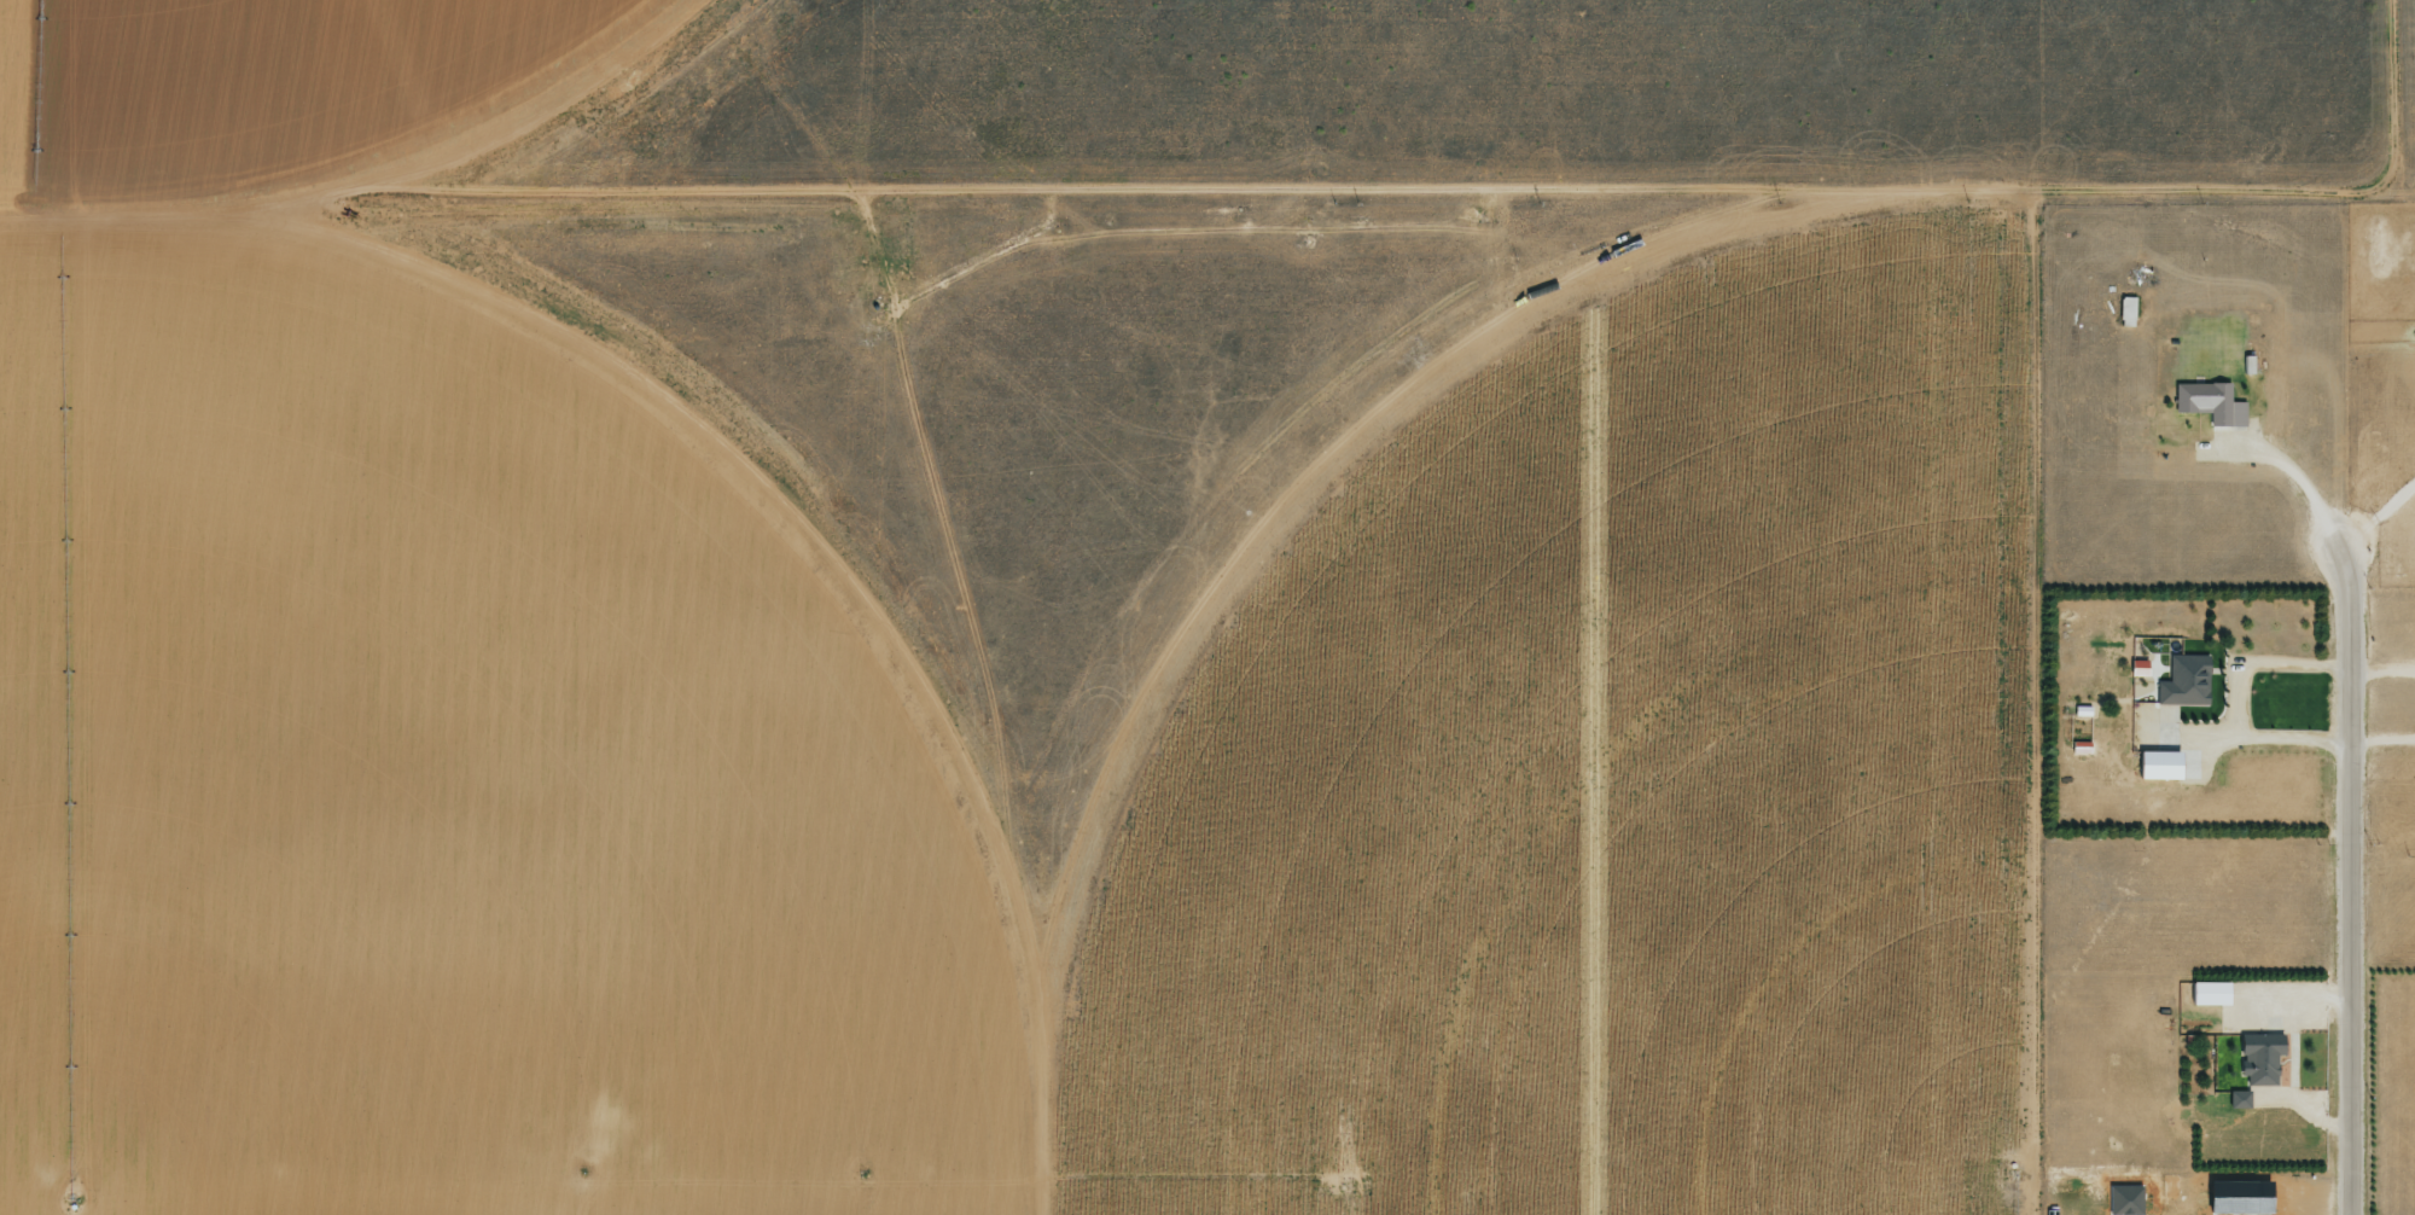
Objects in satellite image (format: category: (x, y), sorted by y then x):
building: (2125, 312)
building: (2209, 402)
building: (2136, 668)
building: (2186, 681)
building: (2157, 765)
road: (2344, 885)
building: (2207, 993)
building: (2259, 1057)
building: (2236, 1099)
building: (2124, 1199)

